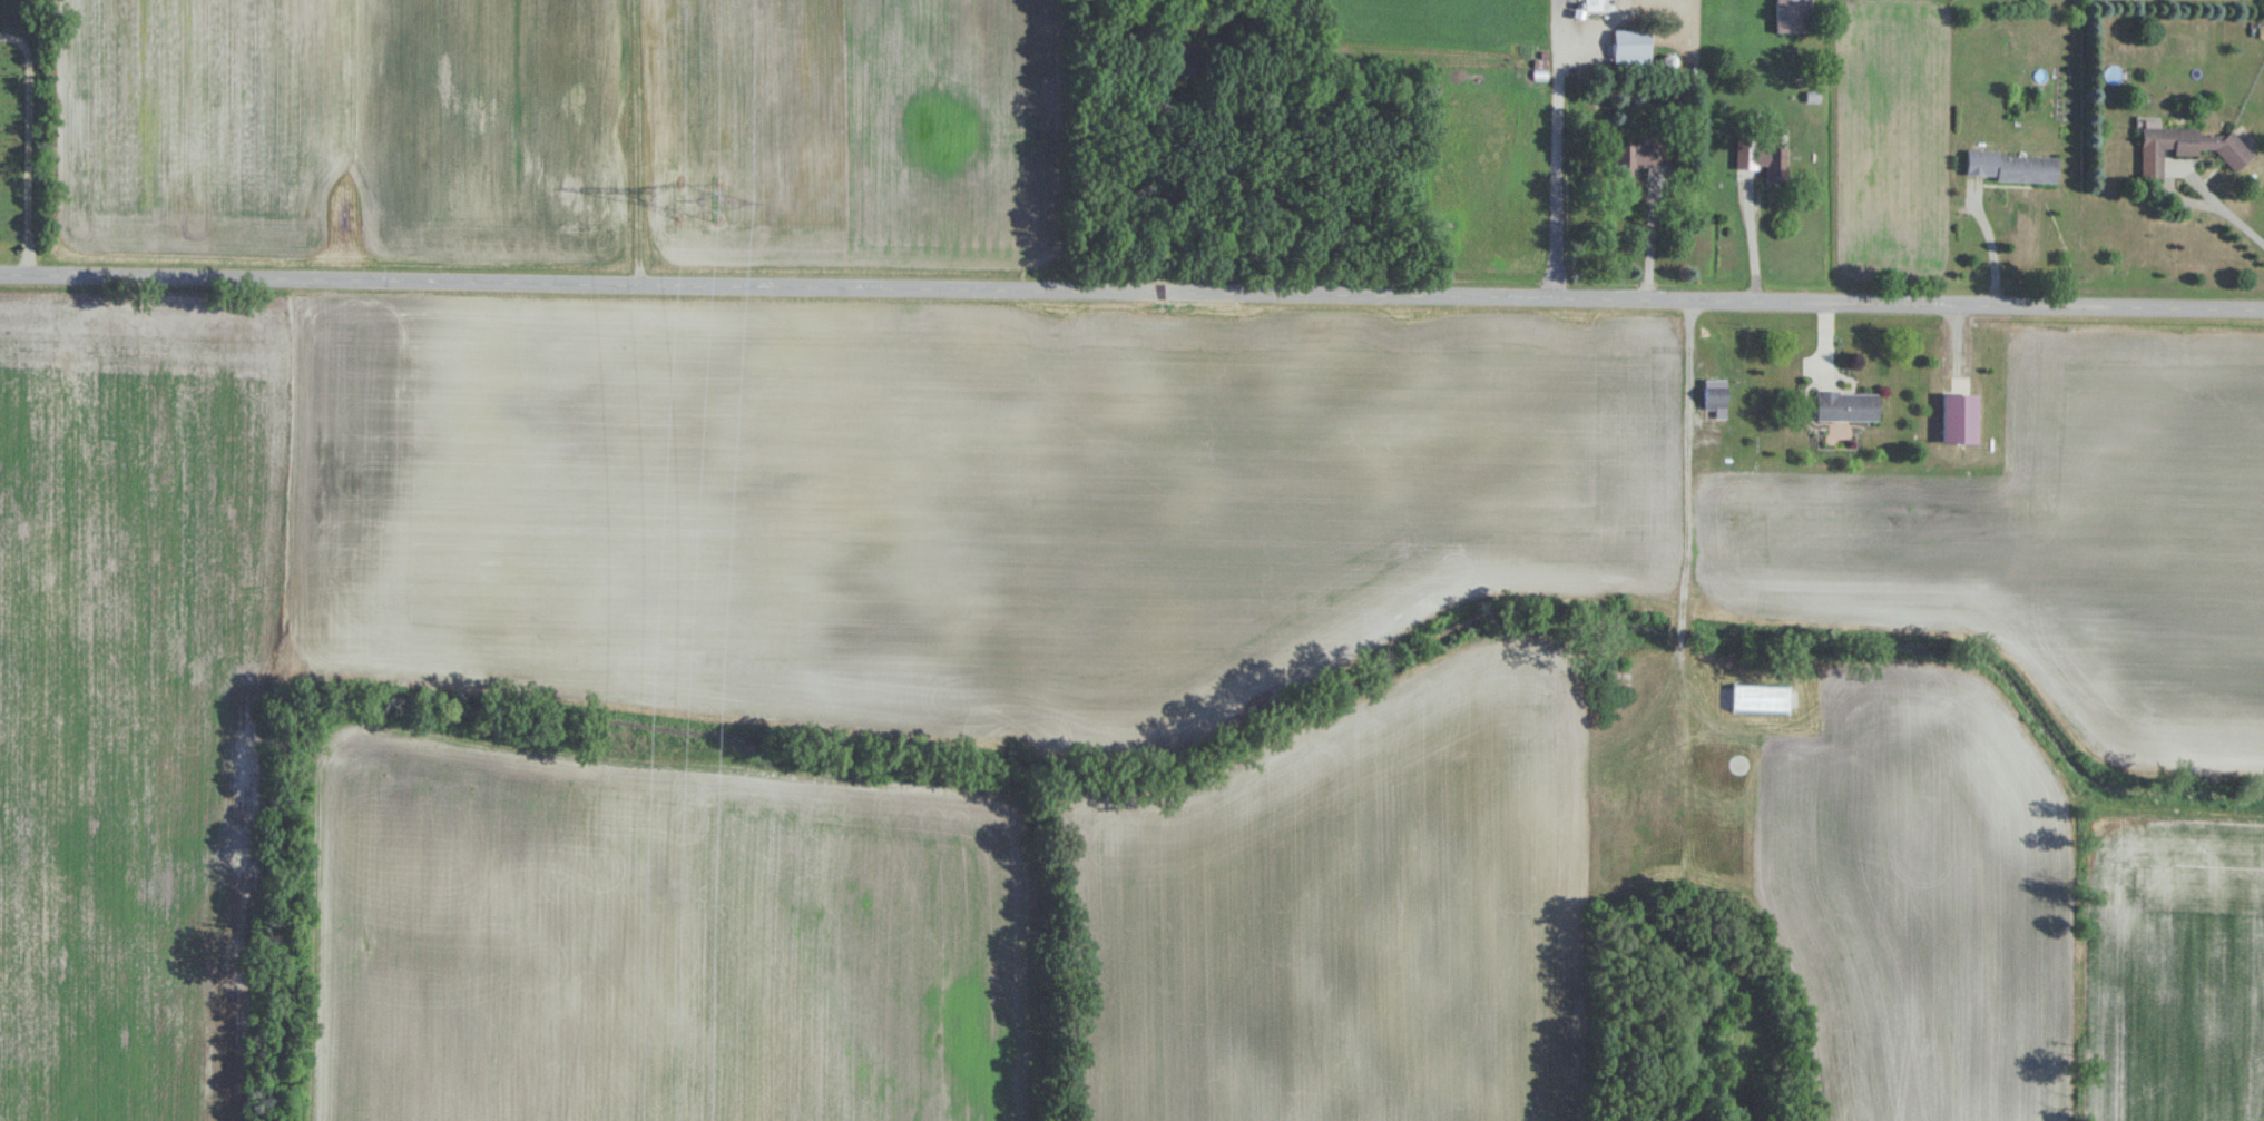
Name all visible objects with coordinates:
building: (1597, 6)
building: (1794, 16)
building: (1633, 48)
building: (1170, 60)
road: (28, 148)
building: (2187, 148)
building: (1640, 158)
building: (1764, 158)
building: (2011, 167)
power tower: (696, 193)
road: (2215, 212)
road: (1649, 236)
road: (1992, 245)
road: (1131, 292)
building: (1716, 400)
building: (1849, 406)
building: (1962, 420)
building: (1762, 700)
building: (1742, 764)

